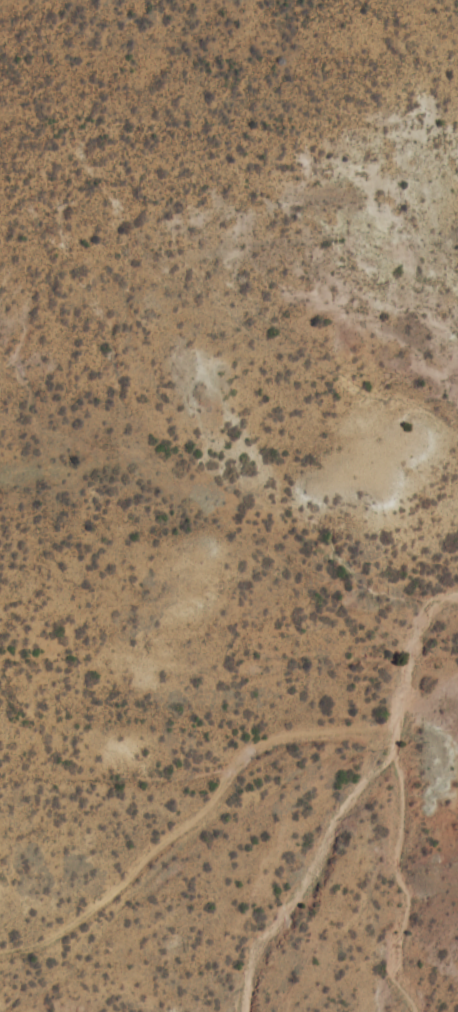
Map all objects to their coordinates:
road: (216, 802)

